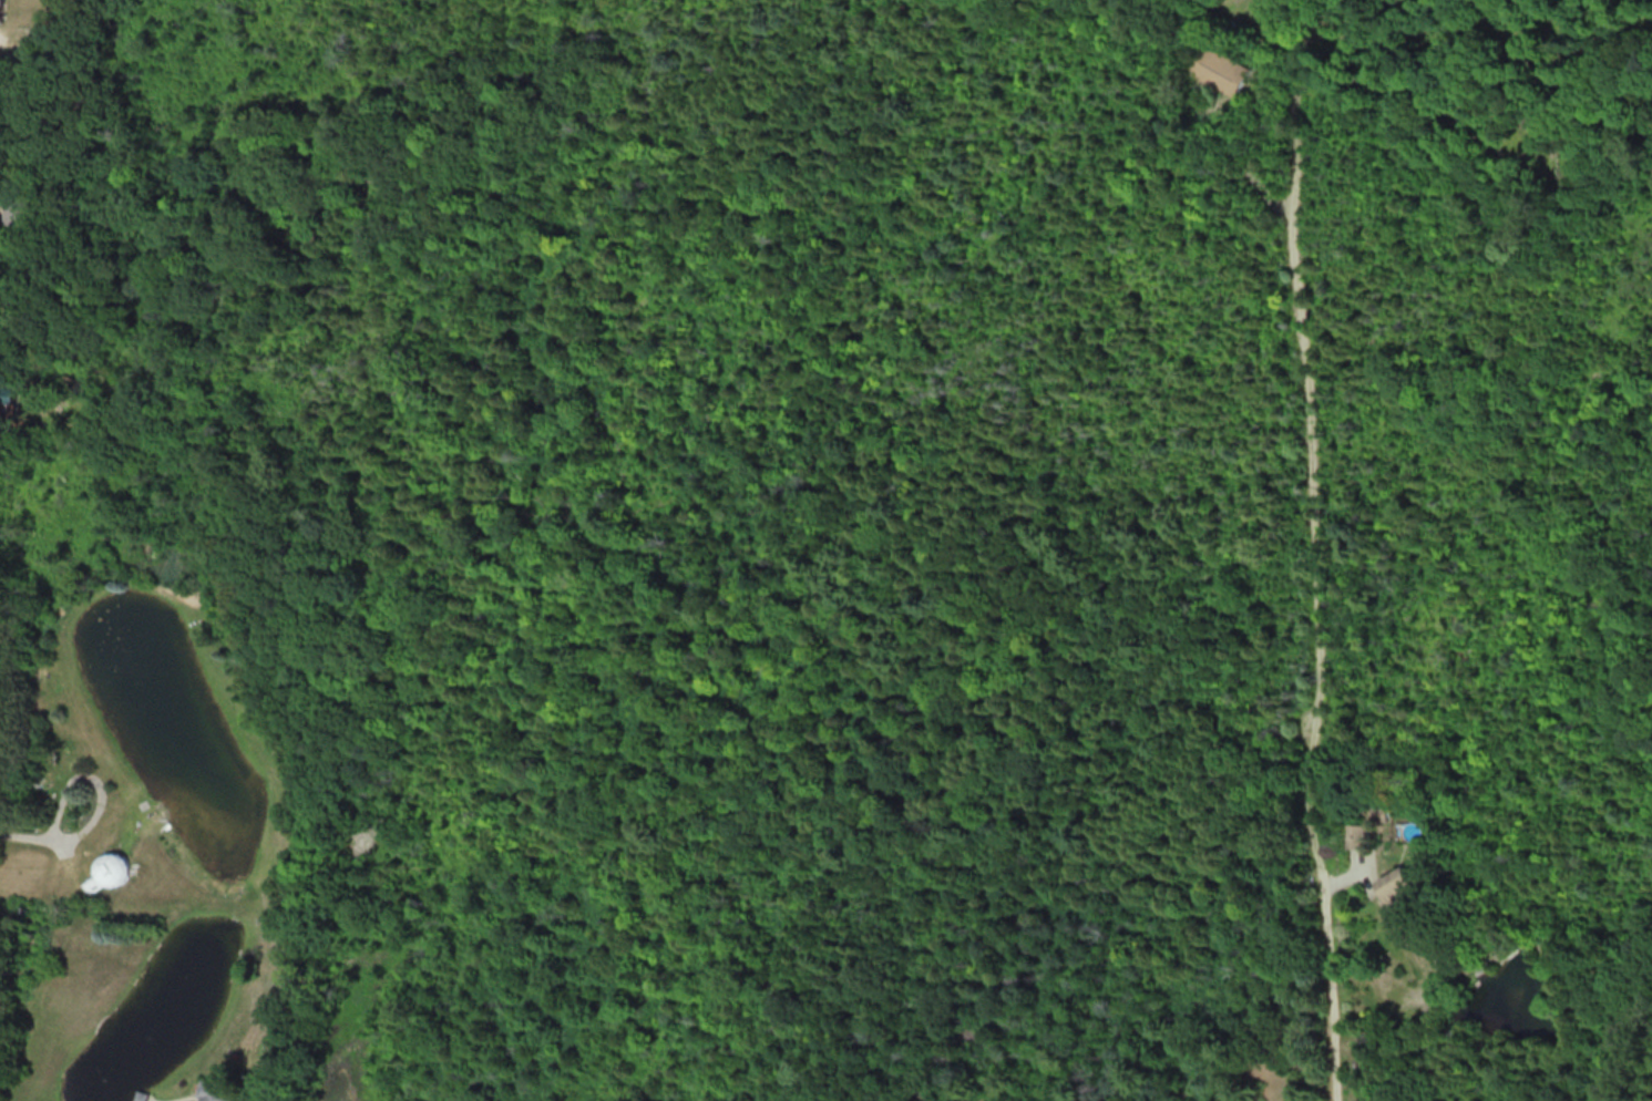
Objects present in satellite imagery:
building: (4, 10)
building: (1225, 69)
building: (21, 210)
building: (3, 400)
road: (1316, 591)
building: (1383, 811)
road: (40, 830)
building: (1358, 835)
building: (109, 871)
building: (1400, 888)
building: (215, 1091)

